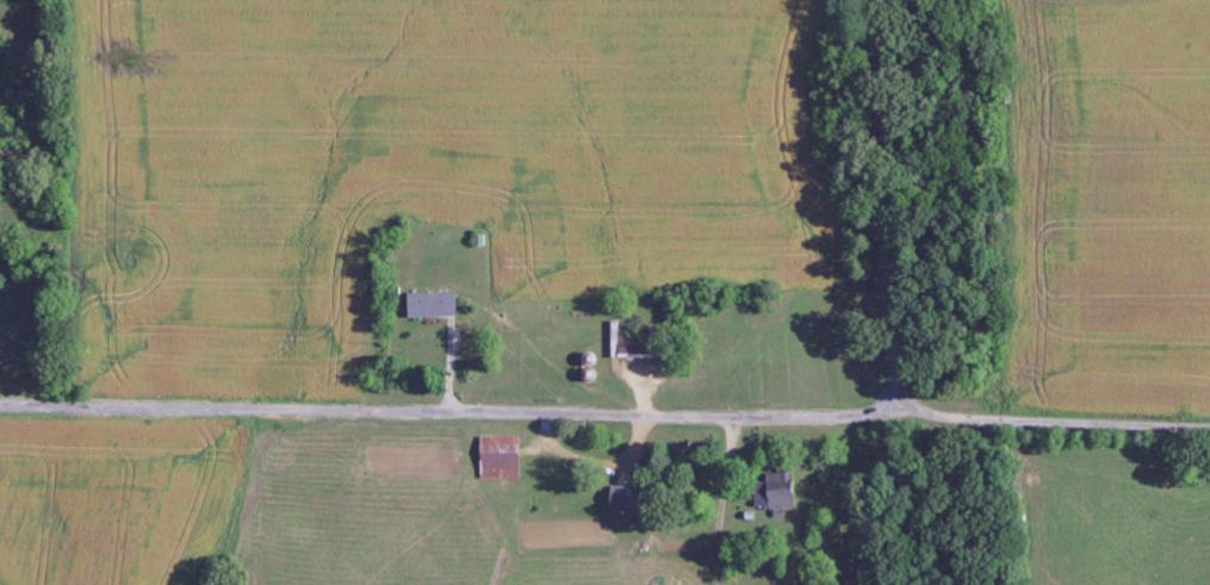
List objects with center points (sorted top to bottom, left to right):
road: (885, 210)
building: (435, 305)
building: (638, 343)
road: (893, 392)
road: (604, 412)
building: (502, 458)
building: (629, 499)

